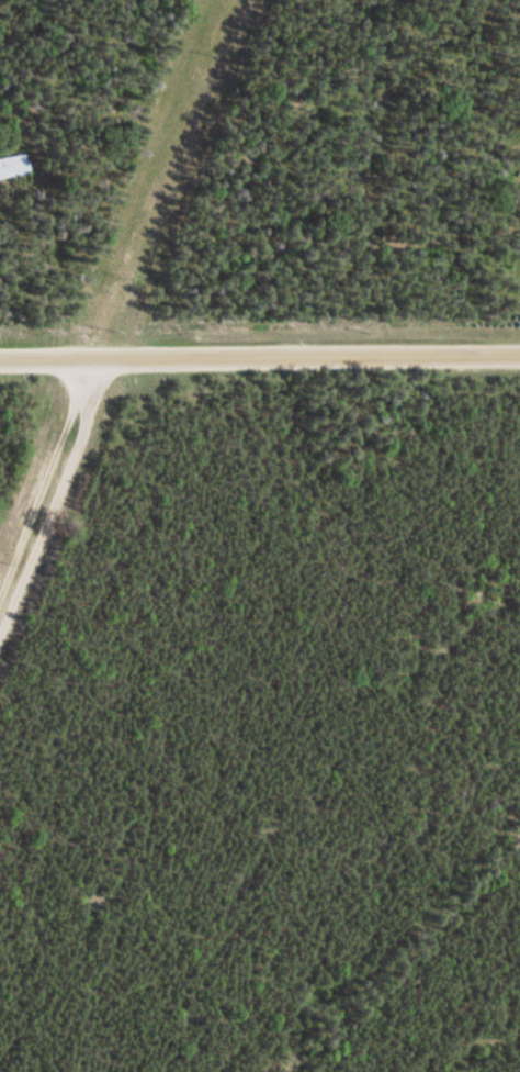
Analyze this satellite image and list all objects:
building: (12, 167)
road: (179, 180)
road: (313, 359)
road: (53, 361)
road: (53, 493)

